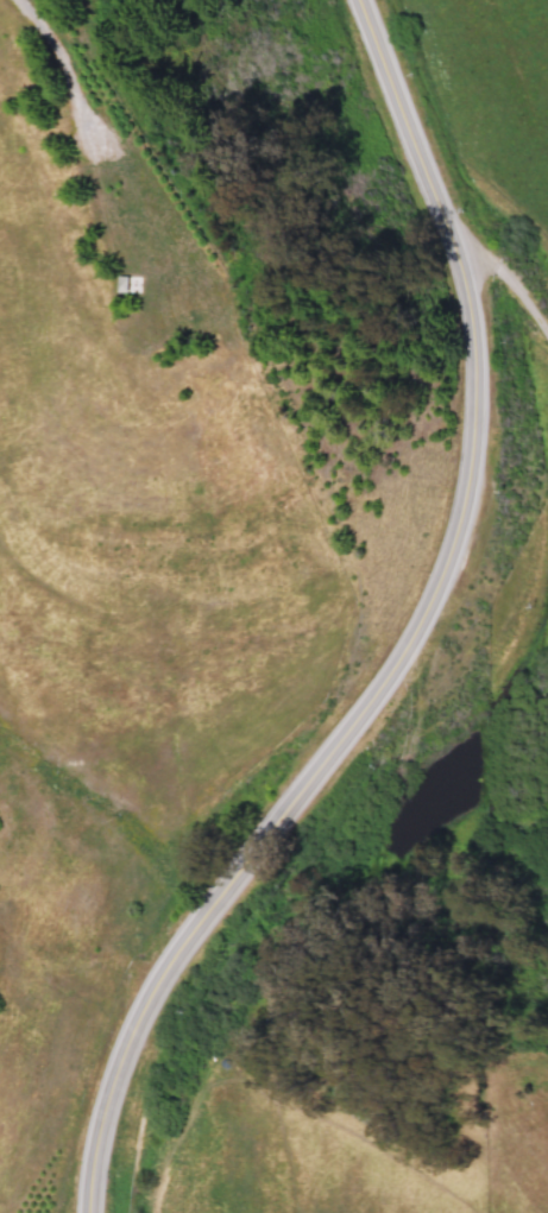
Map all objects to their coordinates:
road: (69, 46)
road: (398, 116)
road: (127, 144)
road: (502, 282)
road: (334, 739)

